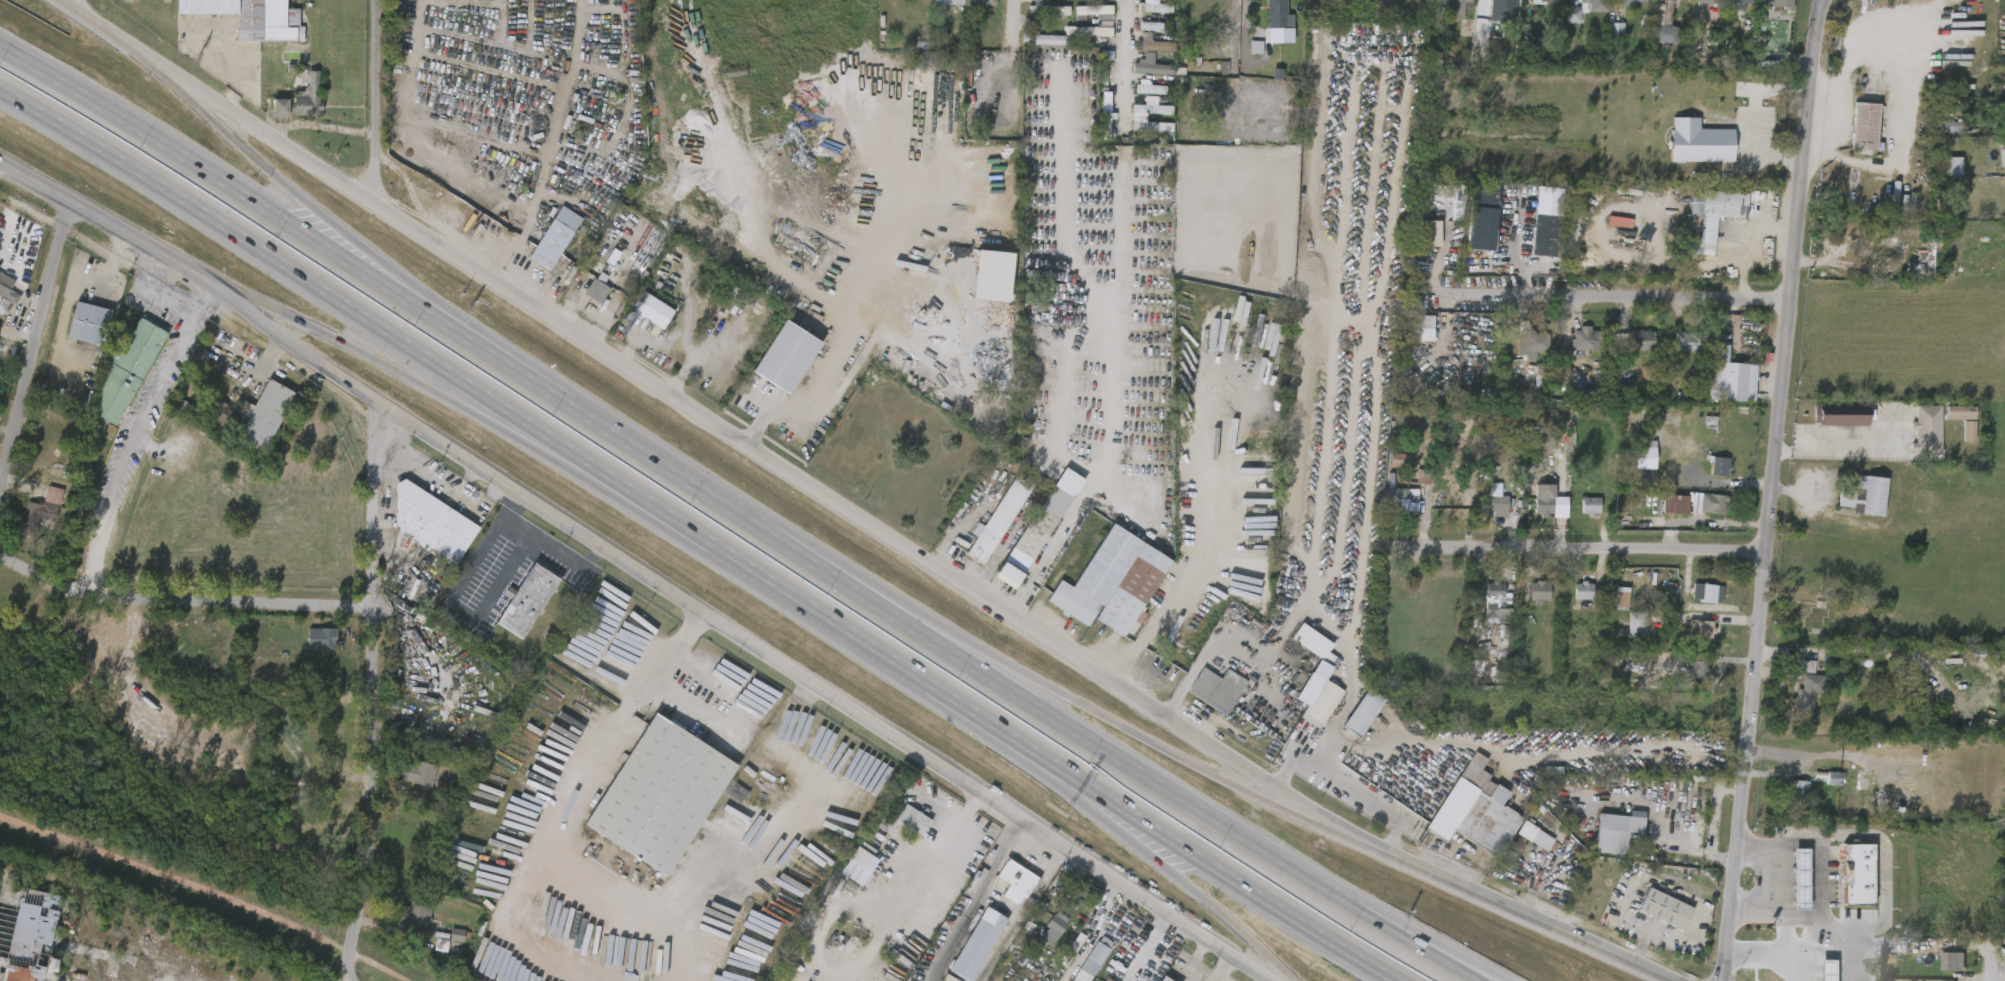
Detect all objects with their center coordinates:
building: (1033, 0)
building: (1742, 1)
building: (979, 2)
building: (1544, 2)
building: (1708, 2)
building: (948, 3)
building: (1625, 4)
building: (1781, 4)
building: (1595, 5)
building: (1692, 6)
building: (1766, 6)
building: (935, 7)
building: (1154, 7)
building: (1450, 8)
building: (1046, 9)
road: (75, 10)
road: (83, 10)
building: (1096, 13)
building: (1505, 13)
building: (1670, 13)
building: (1142, 14)
building: (1276, 14)
building: (1573, 15)
building: (255, 18)
building: (1080, 19)
building: (1265, 19)
building: (1086, 32)
building: (1138, 36)
building: (1604, 38)
building: (1042, 39)
building: (1075, 40)
building: (1152, 43)
road: (128, 44)
road: (1851, 47)
building: (1031, 49)
building: (1142, 53)
building: (1492, 55)
road: (1012, 60)
road: (1125, 68)
building: (1152, 69)
building: (1137, 75)
building: (1215, 77)
road: (184, 90)
building: (301, 95)
building: (1136, 97)
road: (381, 101)
building: (1150, 105)
building: (1104, 112)
building: (1134, 115)
building: (269, 116)
building: (1093, 121)
building: (1998, 123)
building: (1864, 128)
road: (1831, 136)
building: (1851, 136)
building: (1686, 151)
building: (2001, 157)
road: (205, 171)
road: (270, 174)
building: (1937, 175)
building: (1998, 202)
building: (1432, 205)
building: (1715, 215)
building: (1480, 221)
building: (1416, 234)
building: (1542, 235)
building: (555, 237)
road: (374, 267)
road: (191, 271)
road: (294, 272)
building: (8, 289)
building: (598, 291)
road: (1609, 297)
building: (730, 299)
road: (166, 300)
building: (584, 300)
road: (251, 302)
building: (3, 306)
road: (674, 306)
building: (652, 309)
building: (639, 319)
building: (91, 324)
building: (1421, 328)
building: (77, 332)
building: (1410, 337)
building: (1589, 339)
building: (1530, 341)
building: (1635, 341)
building: (1691, 341)
building: (1570, 348)
building: (1674, 350)
road: (640, 352)
building: (1519, 354)
road: (675, 357)
road: (37, 358)
road: (697, 358)
building: (779, 359)
road: (835, 364)
road: (391, 368)
building: (126, 369)
road: (1101, 373)
building: (1729, 378)
building: (269, 413)
building: (225, 416)
building: (1843, 420)
building: (1947, 421)
building: (1718, 424)
building: (214, 426)
building: (1926, 431)
building: (1914, 439)
building: (1955, 440)
road: (542, 445)
road: (750, 448)
road: (125, 449)
building: (1641, 455)
road: (659, 465)
building: (1631, 465)
building: (1384, 469)
building: (1707, 475)
road: (442, 483)
road: (1771, 490)
building: (1863, 496)
building: (1404, 499)
building: (1453, 499)
building: (1673, 502)
building: (1711, 502)
building: (1497, 504)
building: (1393, 509)
building: (42, 510)
building: (1535, 511)
building: (1696, 512)
building: (1439, 513)
building: (1661, 513)
building: (1483, 514)
building: (1577, 514)
building: (998, 517)
road: (1213, 521)
building: (431, 522)
building: (1036, 525)
road: (539, 547)
road: (1596, 550)
building: (1109, 582)
building: (1583, 590)
building: (1536, 591)
building: (1704, 591)
building: (1494, 598)
building: (533, 600)
building: (1526, 600)
building: (1570, 600)
building: (1693, 601)
road: (176, 603)
building: (1608, 606)
road: (458, 607)
building: (1482, 609)
road: (830, 619)
building: (1624, 633)
building: (322, 637)
building: (1688, 638)
building: (1312, 642)
road: (956, 645)
building: (309, 647)
building: (1696, 667)
road: (657, 671)
building: (1789, 675)
building: (1684, 678)
road: (821, 688)
building: (1216, 689)
building: (1805, 690)
road: (363, 691)
building: (1320, 702)
building: (1793, 703)
building: (1360, 711)
road: (1135, 734)
road: (1807, 758)
road: (1778, 763)
road: (1279, 764)
building: (420, 772)
building: (1831, 779)
building: (406, 782)
building: (1819, 787)
road: (1167, 790)
building: (1798, 791)
building: (661, 795)
building: (1786, 799)
road: (1341, 801)
road: (1105, 812)
building: (1478, 812)
road: (1306, 815)
building: (914, 820)
road: (959, 822)
building: (1618, 826)
building: (900, 828)
building: (1522, 844)
building: (844, 874)
building: (1013, 876)
building: (1857, 876)
building: (1799, 879)
road: (1233, 881)
road: (1883, 885)
building: (1787, 887)
building: (1003, 891)
road: (972, 899)
road: (1204, 899)
road: (1502, 905)
building: (1664, 908)
building: (415, 913)
road: (1021, 916)
building: (1652, 917)
building: (407, 921)
building: (1052, 927)
building: (39, 937)
building: (1040, 940)
building: (974, 942)
building: (444, 943)
road: (1146, 948)
building: (429, 950)
road: (1771, 952)
building: (494, 958)
building: (1090, 960)
building: (1997, 961)
building: (1952, 962)
road: (1452, 964)
road: (1464, 964)
road: (1219, 968)
road: (1278, 969)
building: (1940, 970)
building: (1106, 979)
building: (1163, 979)

